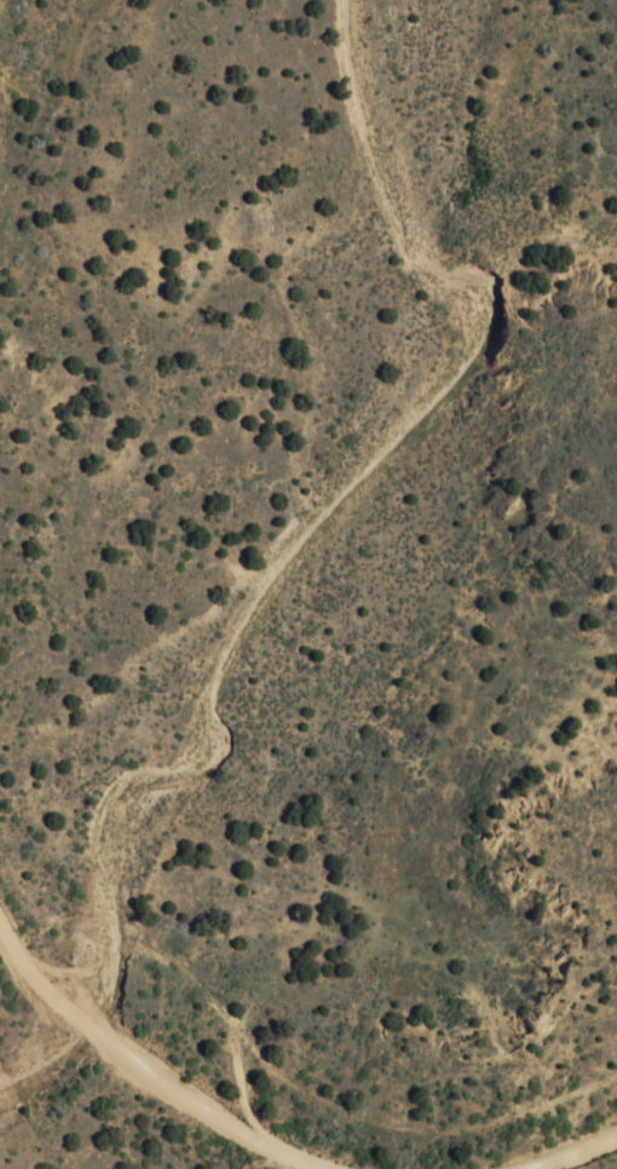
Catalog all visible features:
road: (34, 980)
road: (92, 1031)
road: (204, 1114)
road: (576, 1152)

